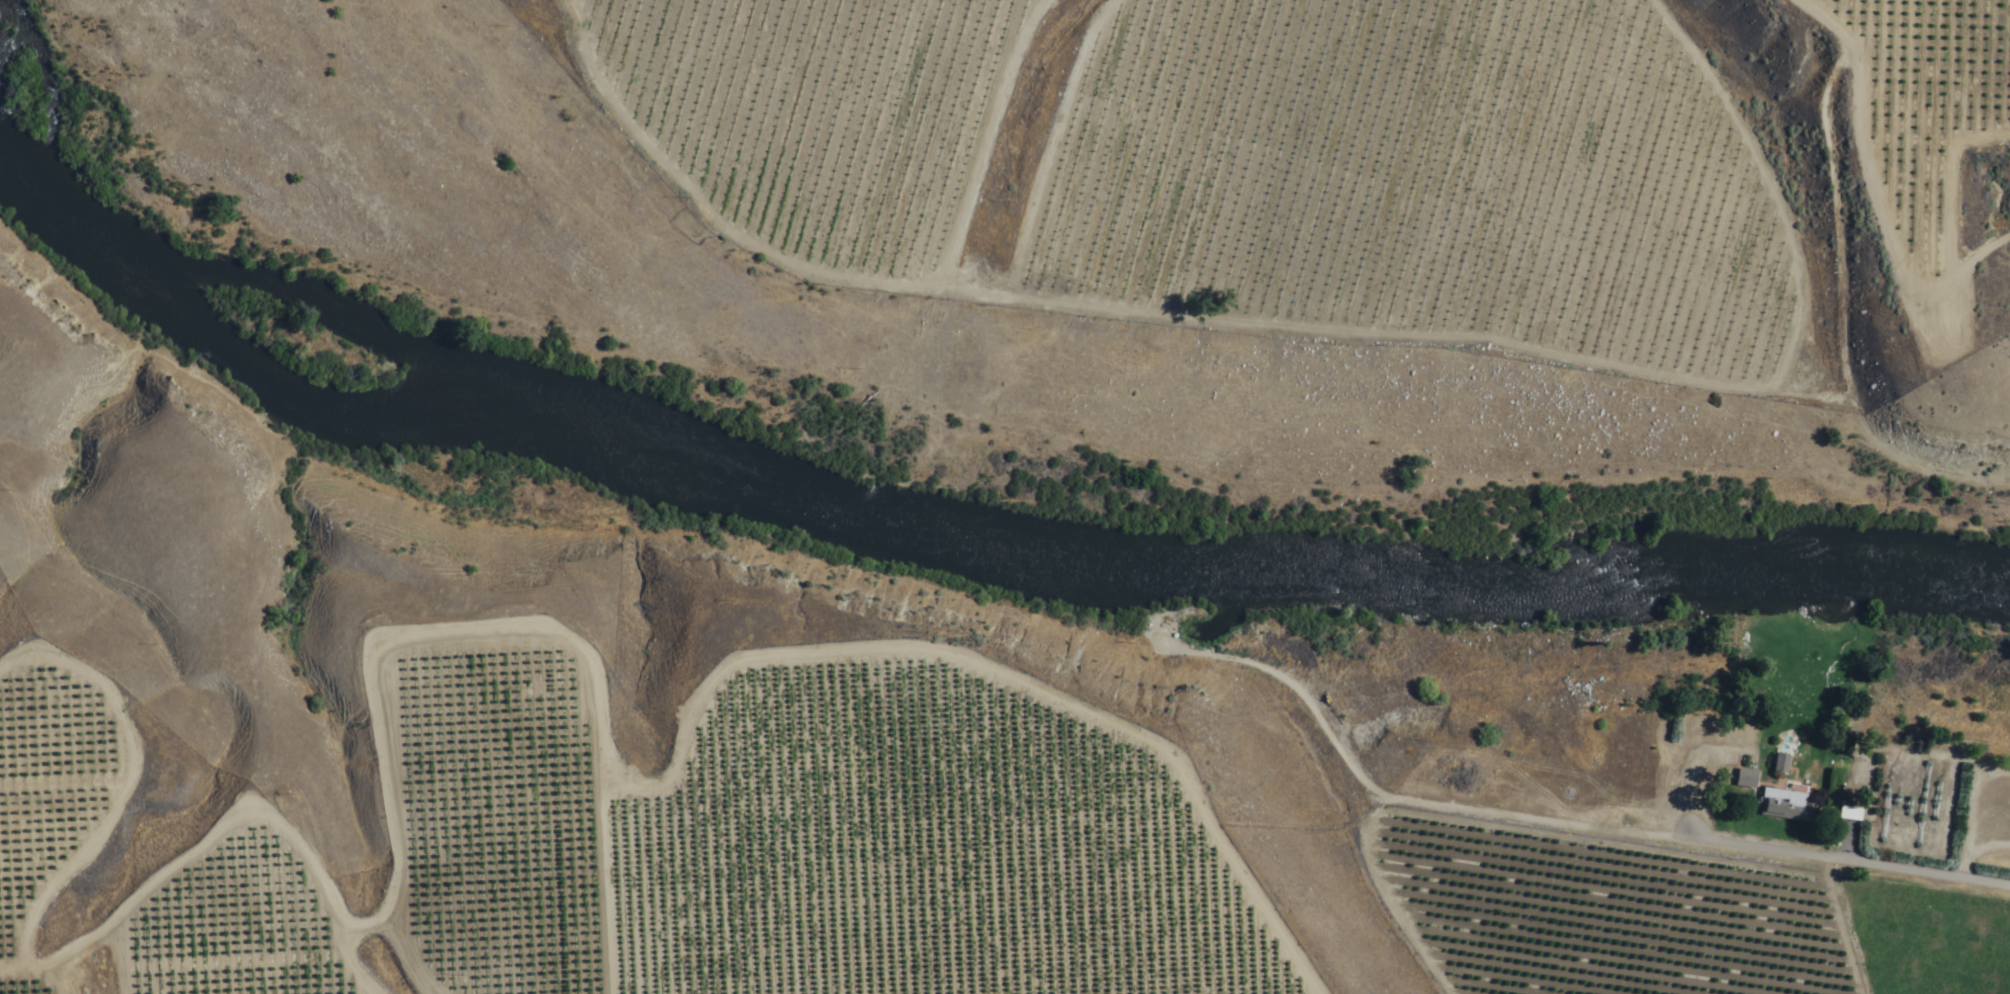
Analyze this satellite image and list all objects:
crop: (1359, 162)
road: (1766, 292)
park: (102, 378)
river: (412, 398)
crop: (1062, 452)
crop: (1346, 460)
crop: (1910, 468)
river: (1453, 605)
building: (1729, 763)
building: (1782, 770)
building: (1745, 780)
building: (1782, 807)
building: (1848, 813)
road: (1893, 869)
crop: (1666, 918)

